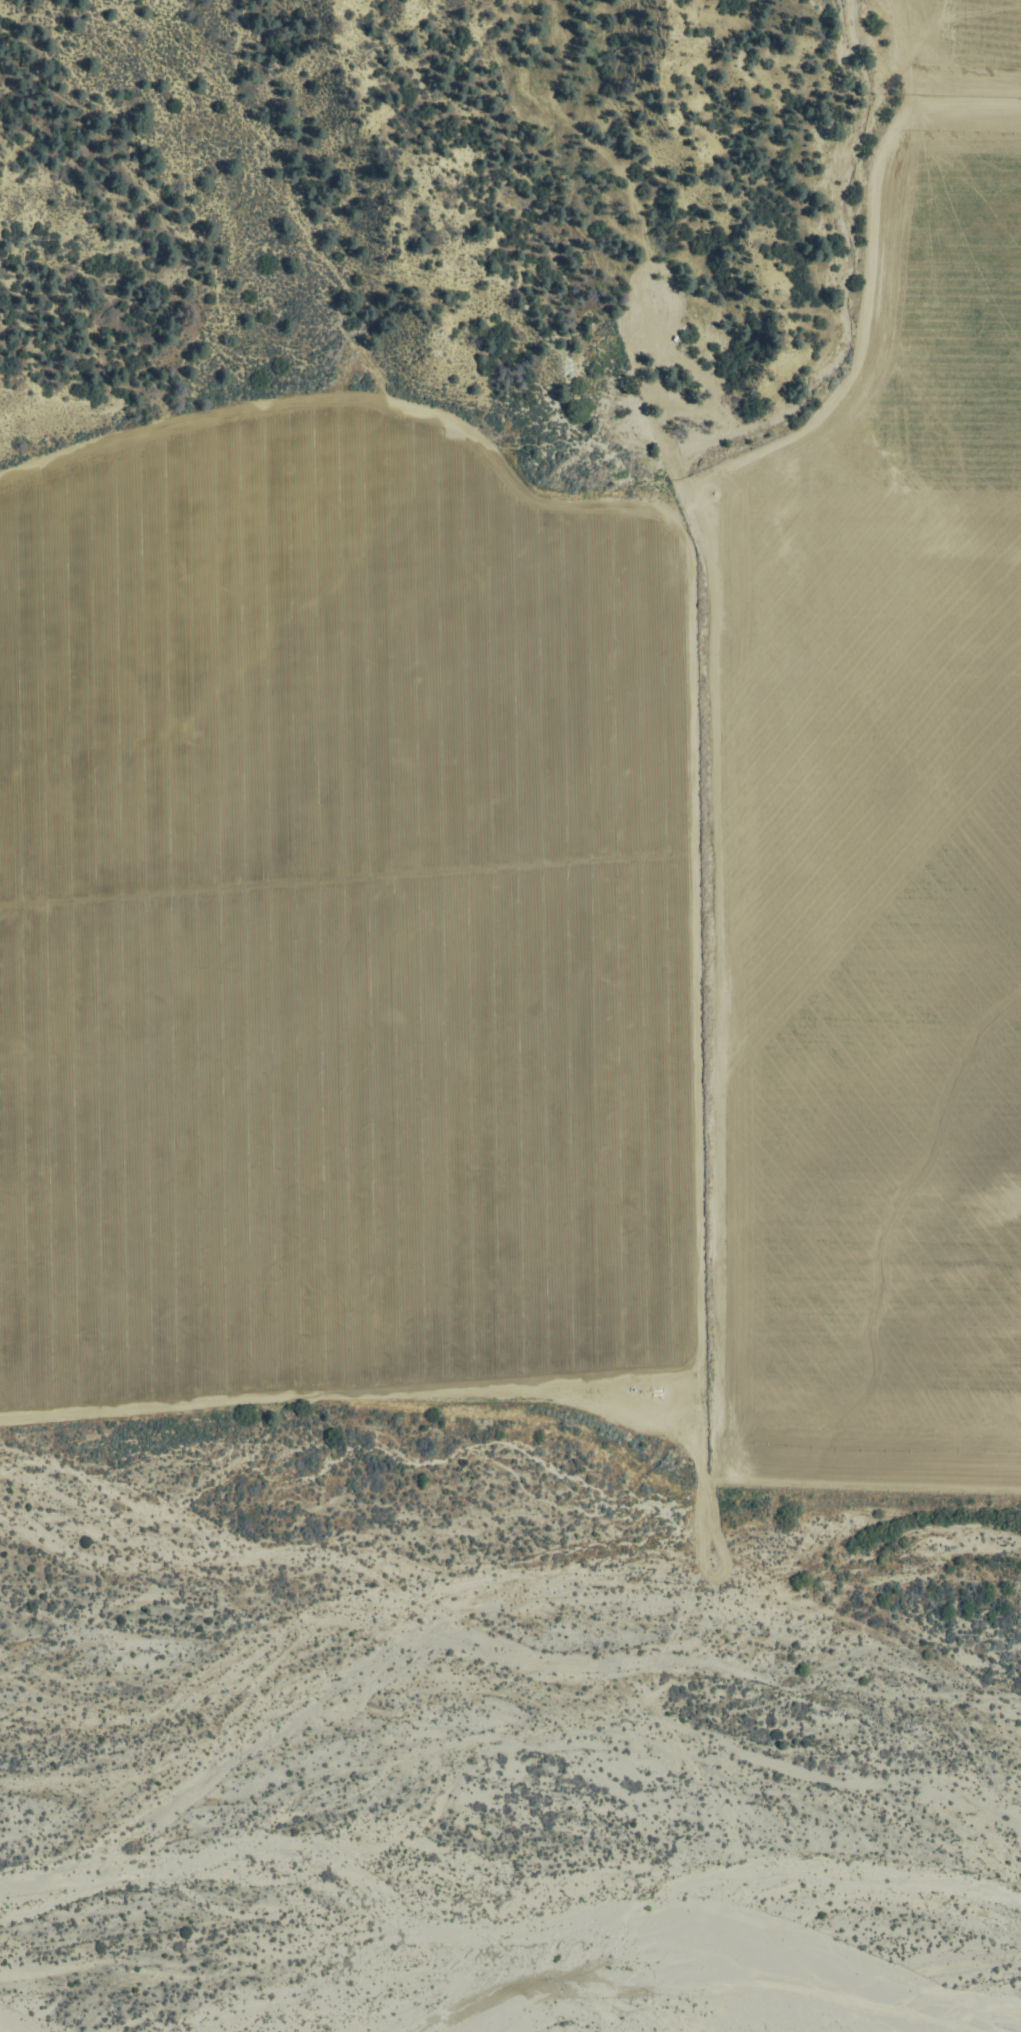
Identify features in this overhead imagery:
road: (519, 1410)
river: (401, 1711)
river: (892, 1819)

